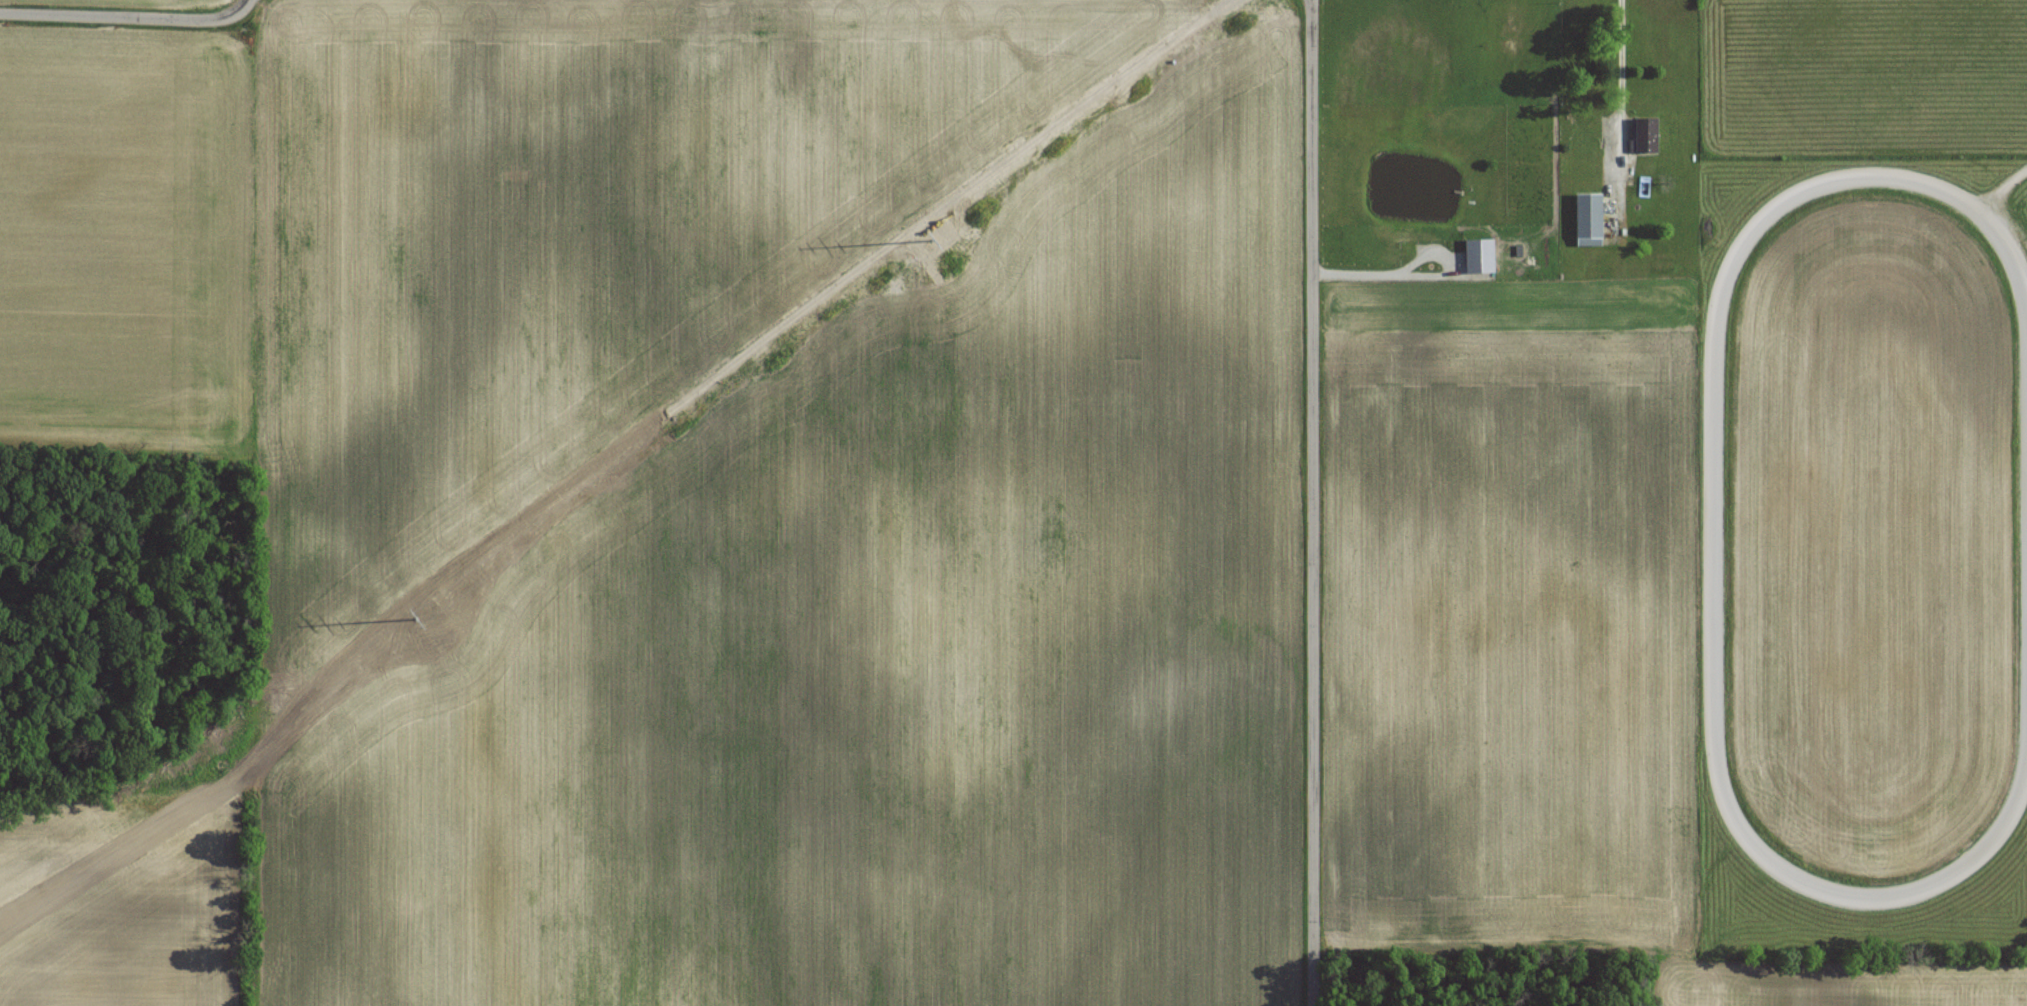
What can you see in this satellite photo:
road: (127, 16)
road: (1620, 116)
building: (1643, 136)
building: (1587, 220)
building: (1479, 257)
power tower: (949, 266)
building: (952, 266)
road: (1419, 272)
road: (1312, 502)
power tower: (448, 636)

